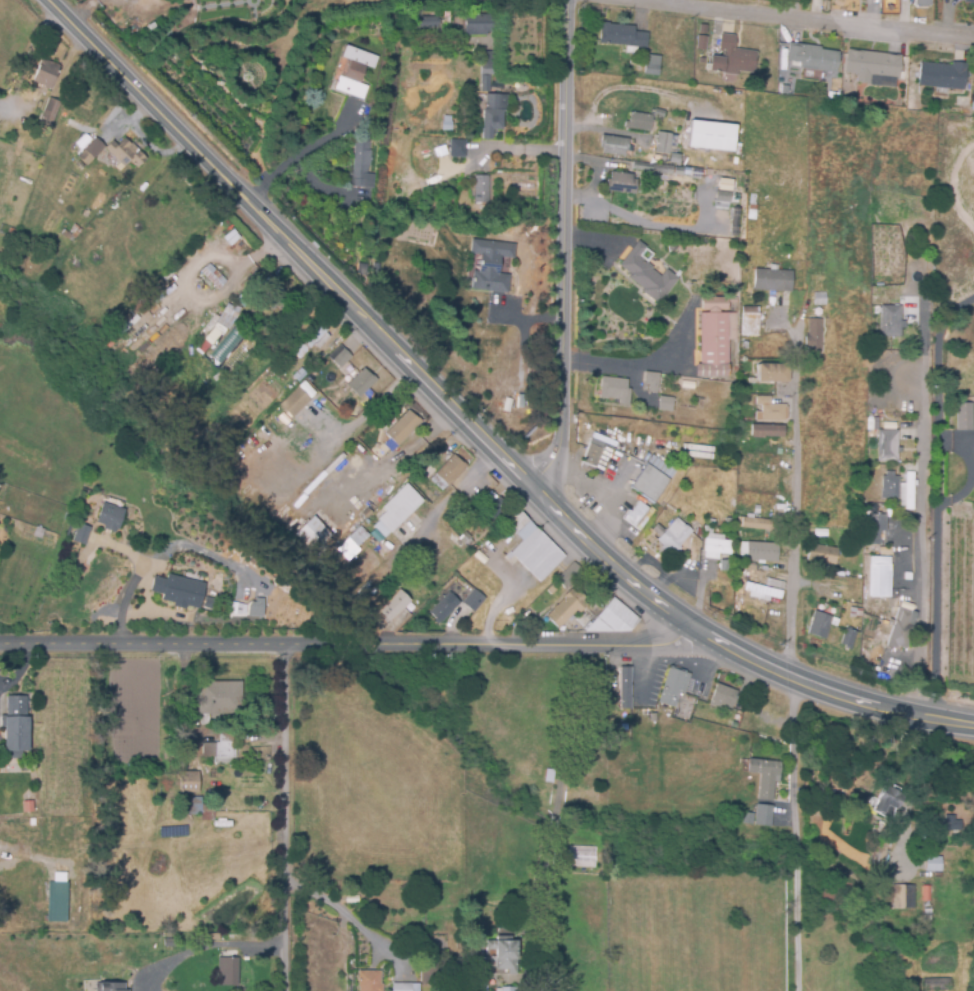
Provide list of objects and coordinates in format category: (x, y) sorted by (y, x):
building: (968, 1)
building: (922, 3)
road: (810, 18)
building: (423, 22)
building: (477, 24)
building: (622, 36)
building: (701, 43)
building: (649, 57)
building: (732, 57)
building: (811, 58)
road: (115, 60)
building: (487, 62)
building: (872, 65)
building: (651, 69)
building: (354, 72)
building: (48, 74)
building: (942, 76)
building: (484, 83)
road: (636, 87)
building: (366, 109)
building: (658, 113)
building: (50, 114)
building: (492, 114)
building: (640, 122)
road: (607, 130)
building: (713, 136)
building: (663, 143)
building: (613, 145)
building: (457, 148)
building: (95, 149)
road: (516, 149)
road: (301, 152)
building: (125, 154)
building: (243, 154)
building: (675, 158)
building: (697, 161)
building: (360, 165)
building: (657, 169)
building: (622, 183)
building: (384, 186)
building: (724, 186)
building: (481, 194)
building: (723, 196)
building: (383, 204)
building: (752, 206)
building: (71, 233)
road: (564, 245)
building: (490, 265)
building: (361, 269)
building: (646, 275)
building: (213, 276)
building: (773, 281)
building: (273, 294)
building: (819, 298)
building: (244, 299)
building: (229, 315)
building: (891, 317)
building: (750, 321)
building: (714, 333)
building: (216, 335)
building: (814, 336)
building: (249, 340)
building: (314, 341)
building: (744, 345)
building: (239, 354)
building: (343, 359)
road: (627, 368)
building: (772, 373)
building: (300, 375)
building: (651, 381)
building: (361, 382)
building: (615, 390)
building: (295, 403)
building: (665, 404)
building: (770, 410)
building: (967, 416)
building: (383, 418)
building: (869, 423)
building: (740, 427)
building: (403, 428)
building: (766, 431)
building: (888, 446)
road: (404, 452)
road: (479, 469)
building: (448, 473)
building: (624, 473)
road: (535, 484)
building: (890, 486)
building: (910, 489)
road: (934, 489)
road: (604, 494)
building: (399, 507)
building: (756, 509)
building: (494, 511)
building: (364, 514)
building: (108, 516)
building: (754, 522)
building: (876, 527)
building: (708, 530)
road: (794, 531)
building: (80, 533)
building: (313, 534)
building: (358, 536)
road: (418, 536)
building: (672, 536)
building: (466, 539)
building: (531, 546)
building: (717, 546)
building: (762, 552)
building: (820, 554)
building: (340, 559)
building: (724, 566)
building: (569, 576)
road: (136, 577)
building: (880, 577)
building: (739, 579)
building: (774, 584)
building: (177, 590)
building: (760, 590)
building: (473, 601)
building: (810, 606)
building: (248, 607)
building: (443, 608)
building: (566, 608)
building: (393, 609)
road: (163, 613)
building: (856, 613)
building: (613, 618)
building: (819, 625)
building: (535, 626)
building: (899, 630)
building: (848, 637)
road: (349, 639)
building: (673, 687)
building: (623, 688)
building: (723, 697)
building: (219, 698)
building: (611, 701)
building: (740, 702)
building: (262, 714)
building: (204, 716)
building: (733, 725)
building: (20, 726)
building: (222, 744)
road: (931, 759)
building: (764, 776)
building: (189, 780)
building: (886, 800)
building: (190, 804)
building: (28, 807)
building: (762, 815)
road: (287, 816)
building: (746, 819)
road: (794, 832)
building: (581, 856)
building: (432, 862)
building: (934, 864)
building: (902, 897)
building: (58, 899)
road: (350, 917)
road: (205, 946)
building: (504, 955)
building: (935, 961)
building: (230, 965)
building: (429, 967)
building: (370, 979)
building: (406, 985)
building: (936, 985)
building: (111, 986)
building: (506, 989)

